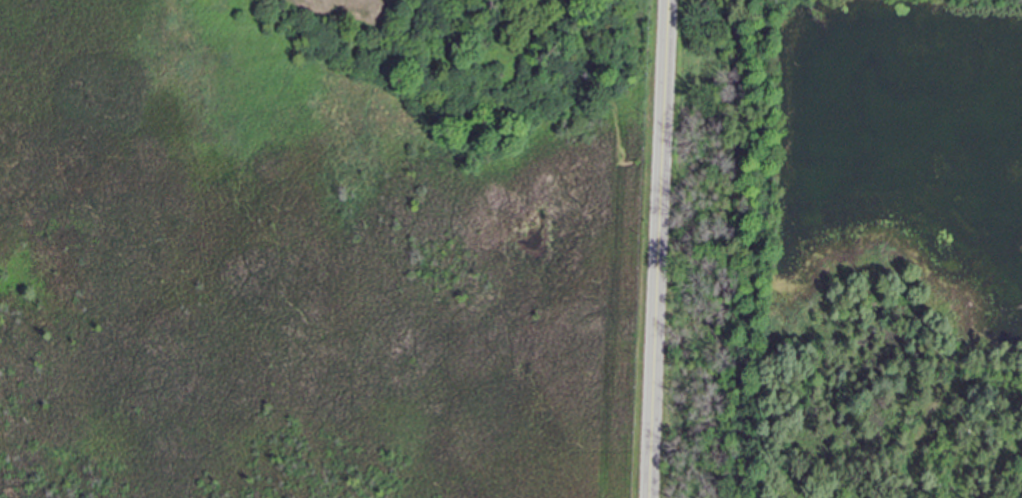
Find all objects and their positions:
river: (745, 248)
road: (659, 249)
quarry: (838, 439)

